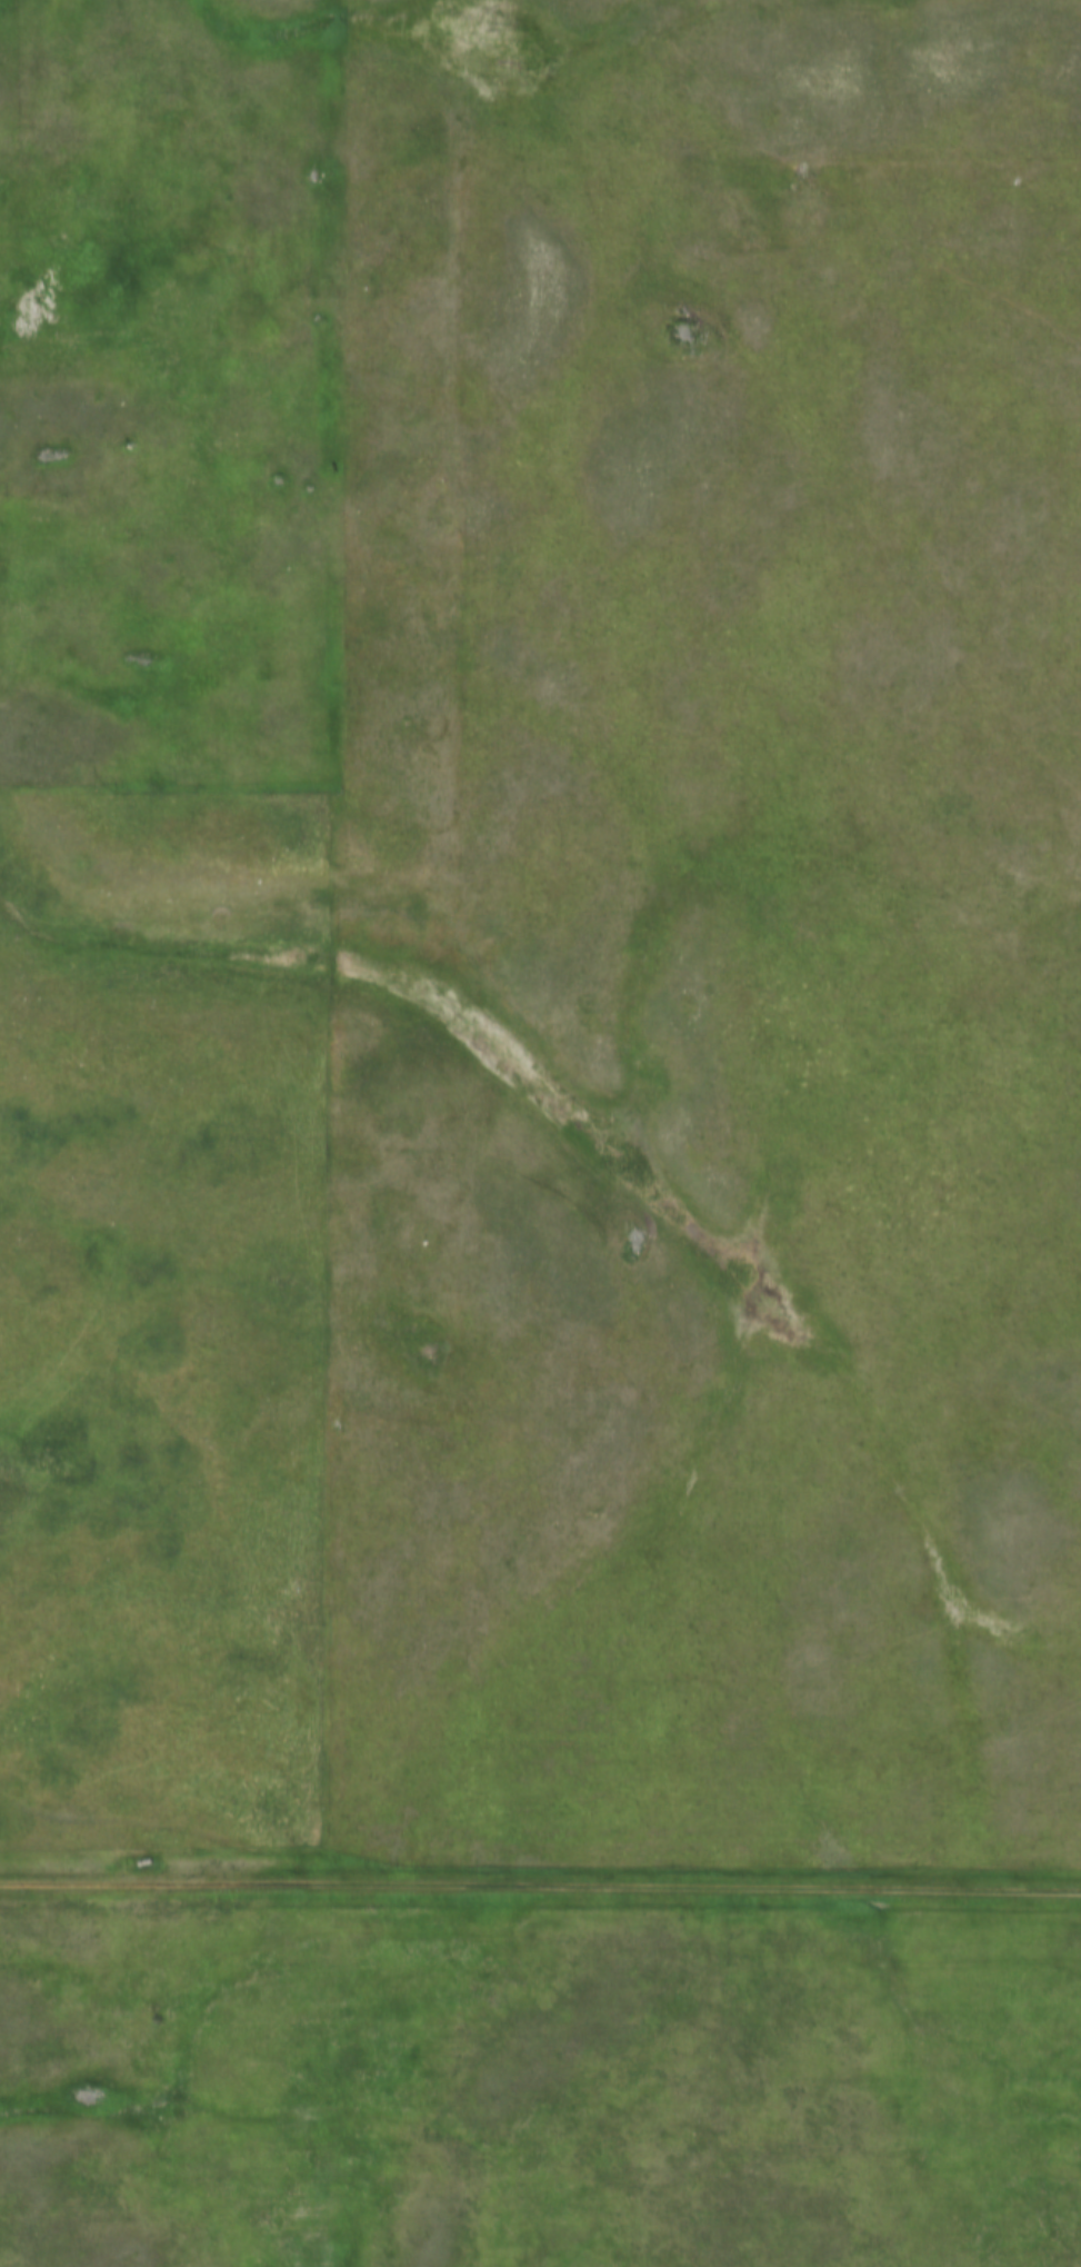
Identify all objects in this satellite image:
road: (540, 1889)

